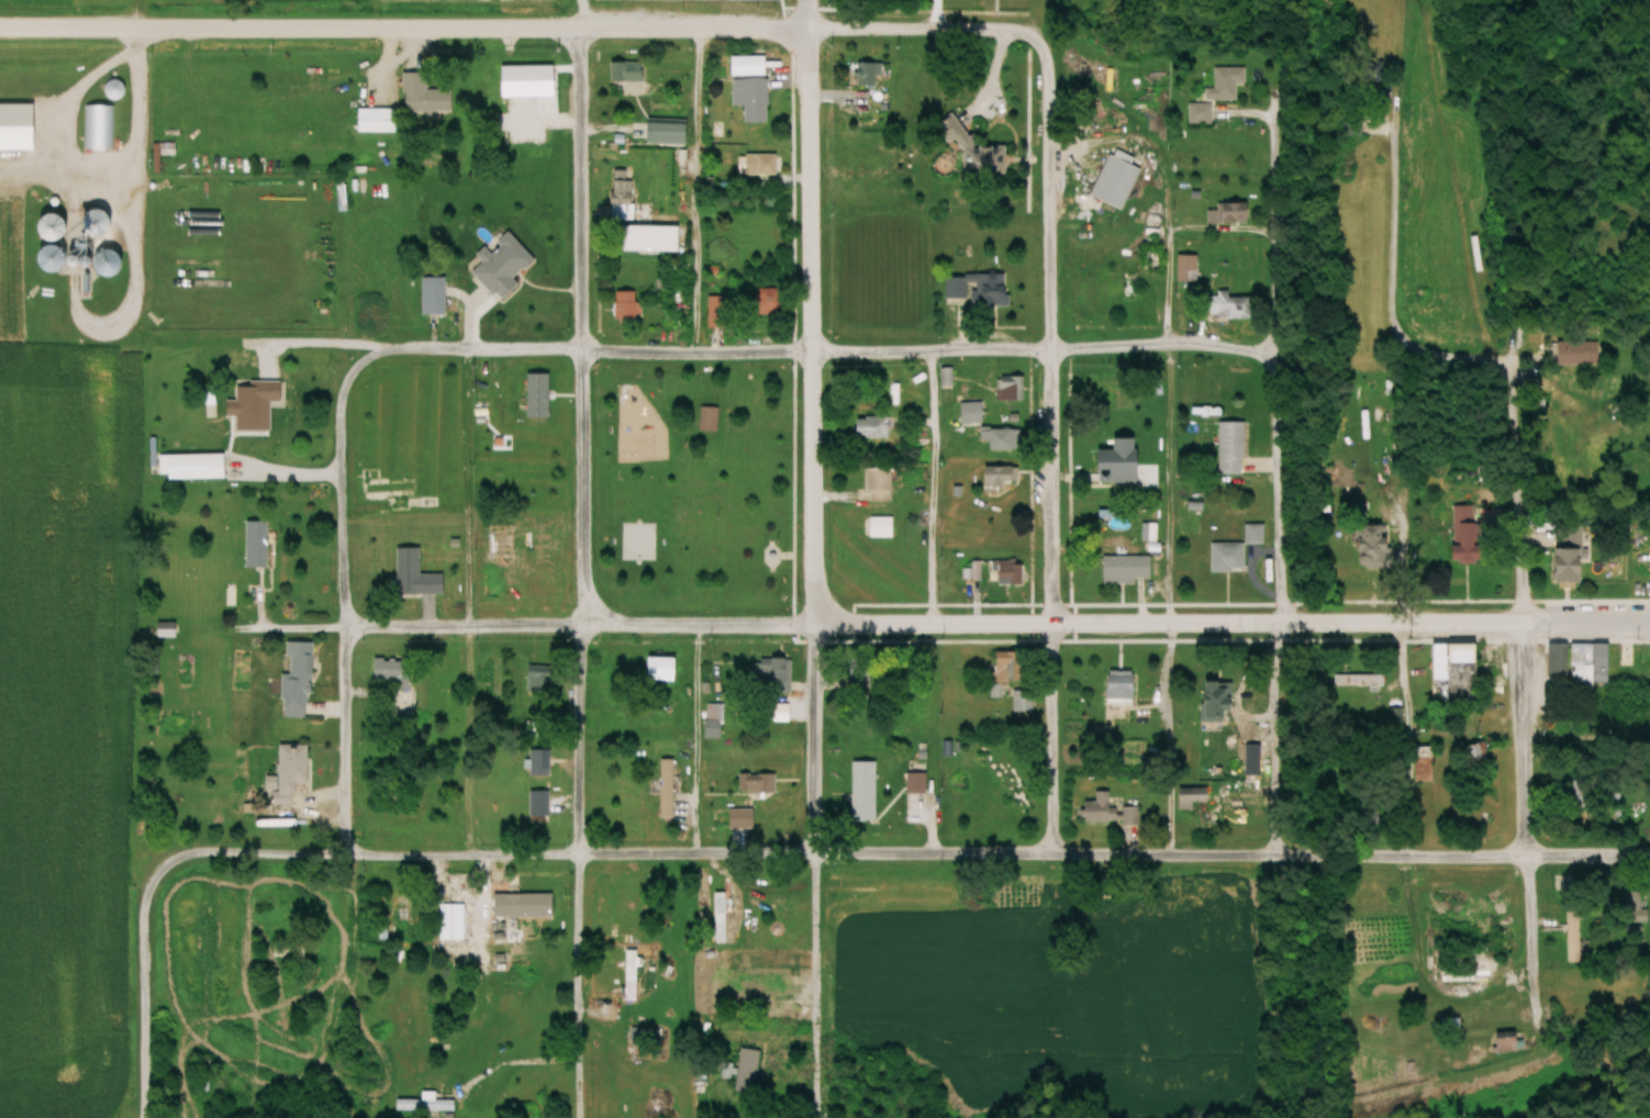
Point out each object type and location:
road: (1047, 12)
road: (573, 14)
road: (1029, 24)
road: (402, 29)
road: (134, 42)
building: (749, 66)
building: (858, 75)
building: (626, 79)
building: (1227, 81)
building: (115, 90)
building: (425, 96)
road: (1251, 98)
building: (751, 99)
building: (1101, 107)
building: (378, 121)
building: (506, 122)
building: (534, 124)
building: (1352, 124)
building: (98, 128)
building: (952, 130)
building: (654, 132)
road: (1140, 142)
building: (760, 165)
building: (1116, 181)
road: (693, 191)
building: (623, 197)
building: (1236, 213)
building: (99, 222)
building: (57, 228)
road: (1387, 232)
road: (1167, 238)
building: (56, 258)
building: (503, 266)
building: (1188, 268)
building: (979, 289)
building: (435, 295)
building: (768, 301)
building: (626, 304)
building: (1233, 306)
building: (717, 312)
road: (805, 313)
road: (94, 325)
building: (1577, 353)
road: (722, 354)
road: (1556, 359)
building: (1011, 388)
building: (1107, 399)
building: (531, 402)
building: (971, 413)
building: (872, 426)
building: (1003, 439)
road: (1046, 439)
road: (197, 448)
building: (1233, 448)
building: (1122, 459)
building: (193, 467)
building: (999, 478)
building: (880, 479)
park: (691, 488)
road: (1168, 488)
building: (386, 489)
road: (929, 491)
building: (1571, 493)
road: (1269, 496)
building: (882, 527)
building: (1467, 537)
building: (1375, 545)
building: (258, 555)
building: (1228, 557)
building: (1571, 566)
building: (1128, 569)
building: (1008, 572)
road: (581, 573)
building: (536, 575)
building: (394, 580)
road: (461, 602)
road: (515, 624)
road: (1230, 625)
road: (1514, 669)
building: (625, 671)
building: (774, 672)
building: (1004, 674)
building: (1454, 674)
building: (1584, 679)
building: (397, 680)
building: (298, 681)
building: (1359, 682)
building: (1122, 689)
building: (1217, 701)
building: (1024, 703)
building: (714, 717)
road: (341, 733)
road: (693, 739)
road: (1398, 742)
road: (1582, 745)
building: (988, 760)
building: (539, 762)
building: (1425, 764)
building: (1253, 767)
building: (293, 769)
building: (1472, 769)
building: (760, 784)
building: (666, 789)
building: (865, 791)
building: (1580, 793)
building: (1192, 797)
building: (1613, 800)
building: (539, 805)
building: (1369, 814)
road: (807, 847)
road: (907, 854)
building: (631, 903)
building: (524, 905)
building: (1630, 905)
building: (722, 918)
building: (391, 921)
building: (453, 923)
building: (1574, 933)
building: (631, 975)
road: (140, 985)
building: (1587, 988)
building: (1508, 1042)
building: (747, 1071)
building: (203, 1075)
building: (537, 1105)
building: (426, 1106)
building: (221, 1115)

